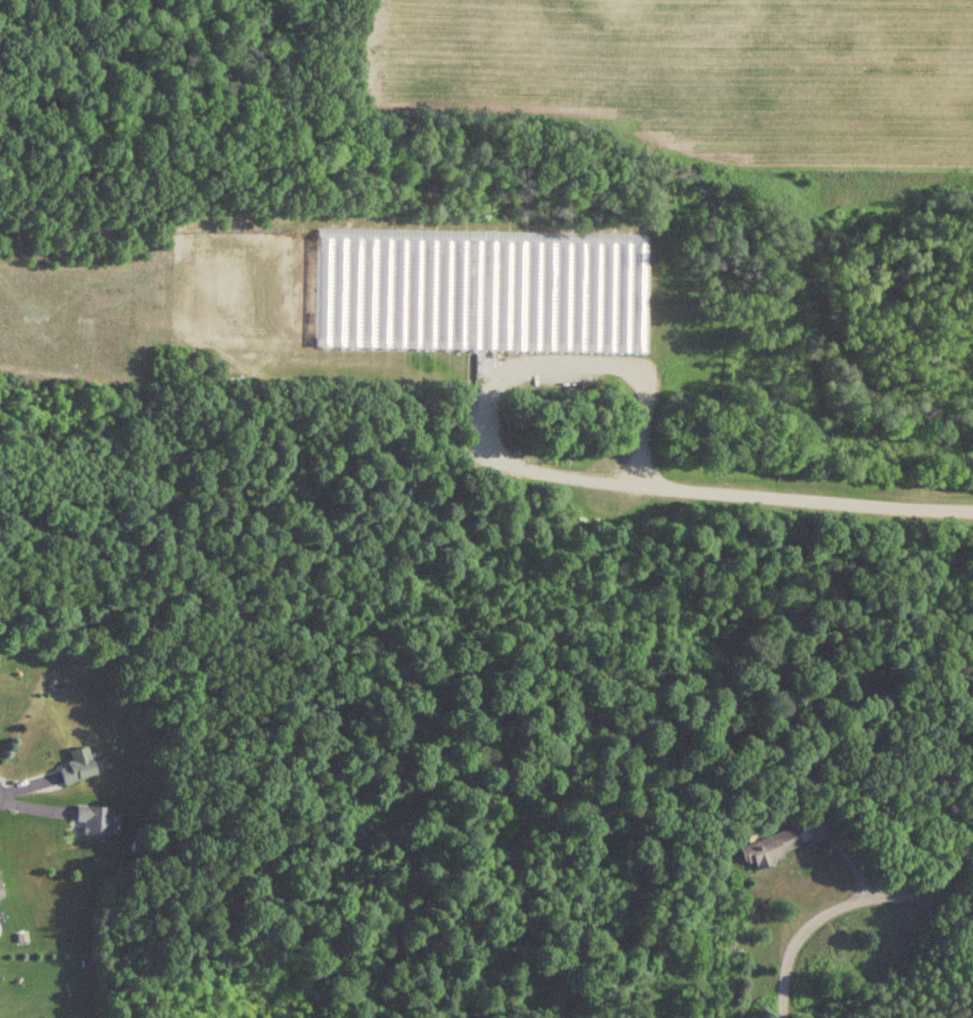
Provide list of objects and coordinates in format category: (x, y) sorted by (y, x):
building: (474, 292)
road: (642, 411)
road: (547, 473)
road: (812, 500)
building: (73, 767)
building: (90, 820)
building: (766, 849)
building: (0, 899)
road: (848, 903)

